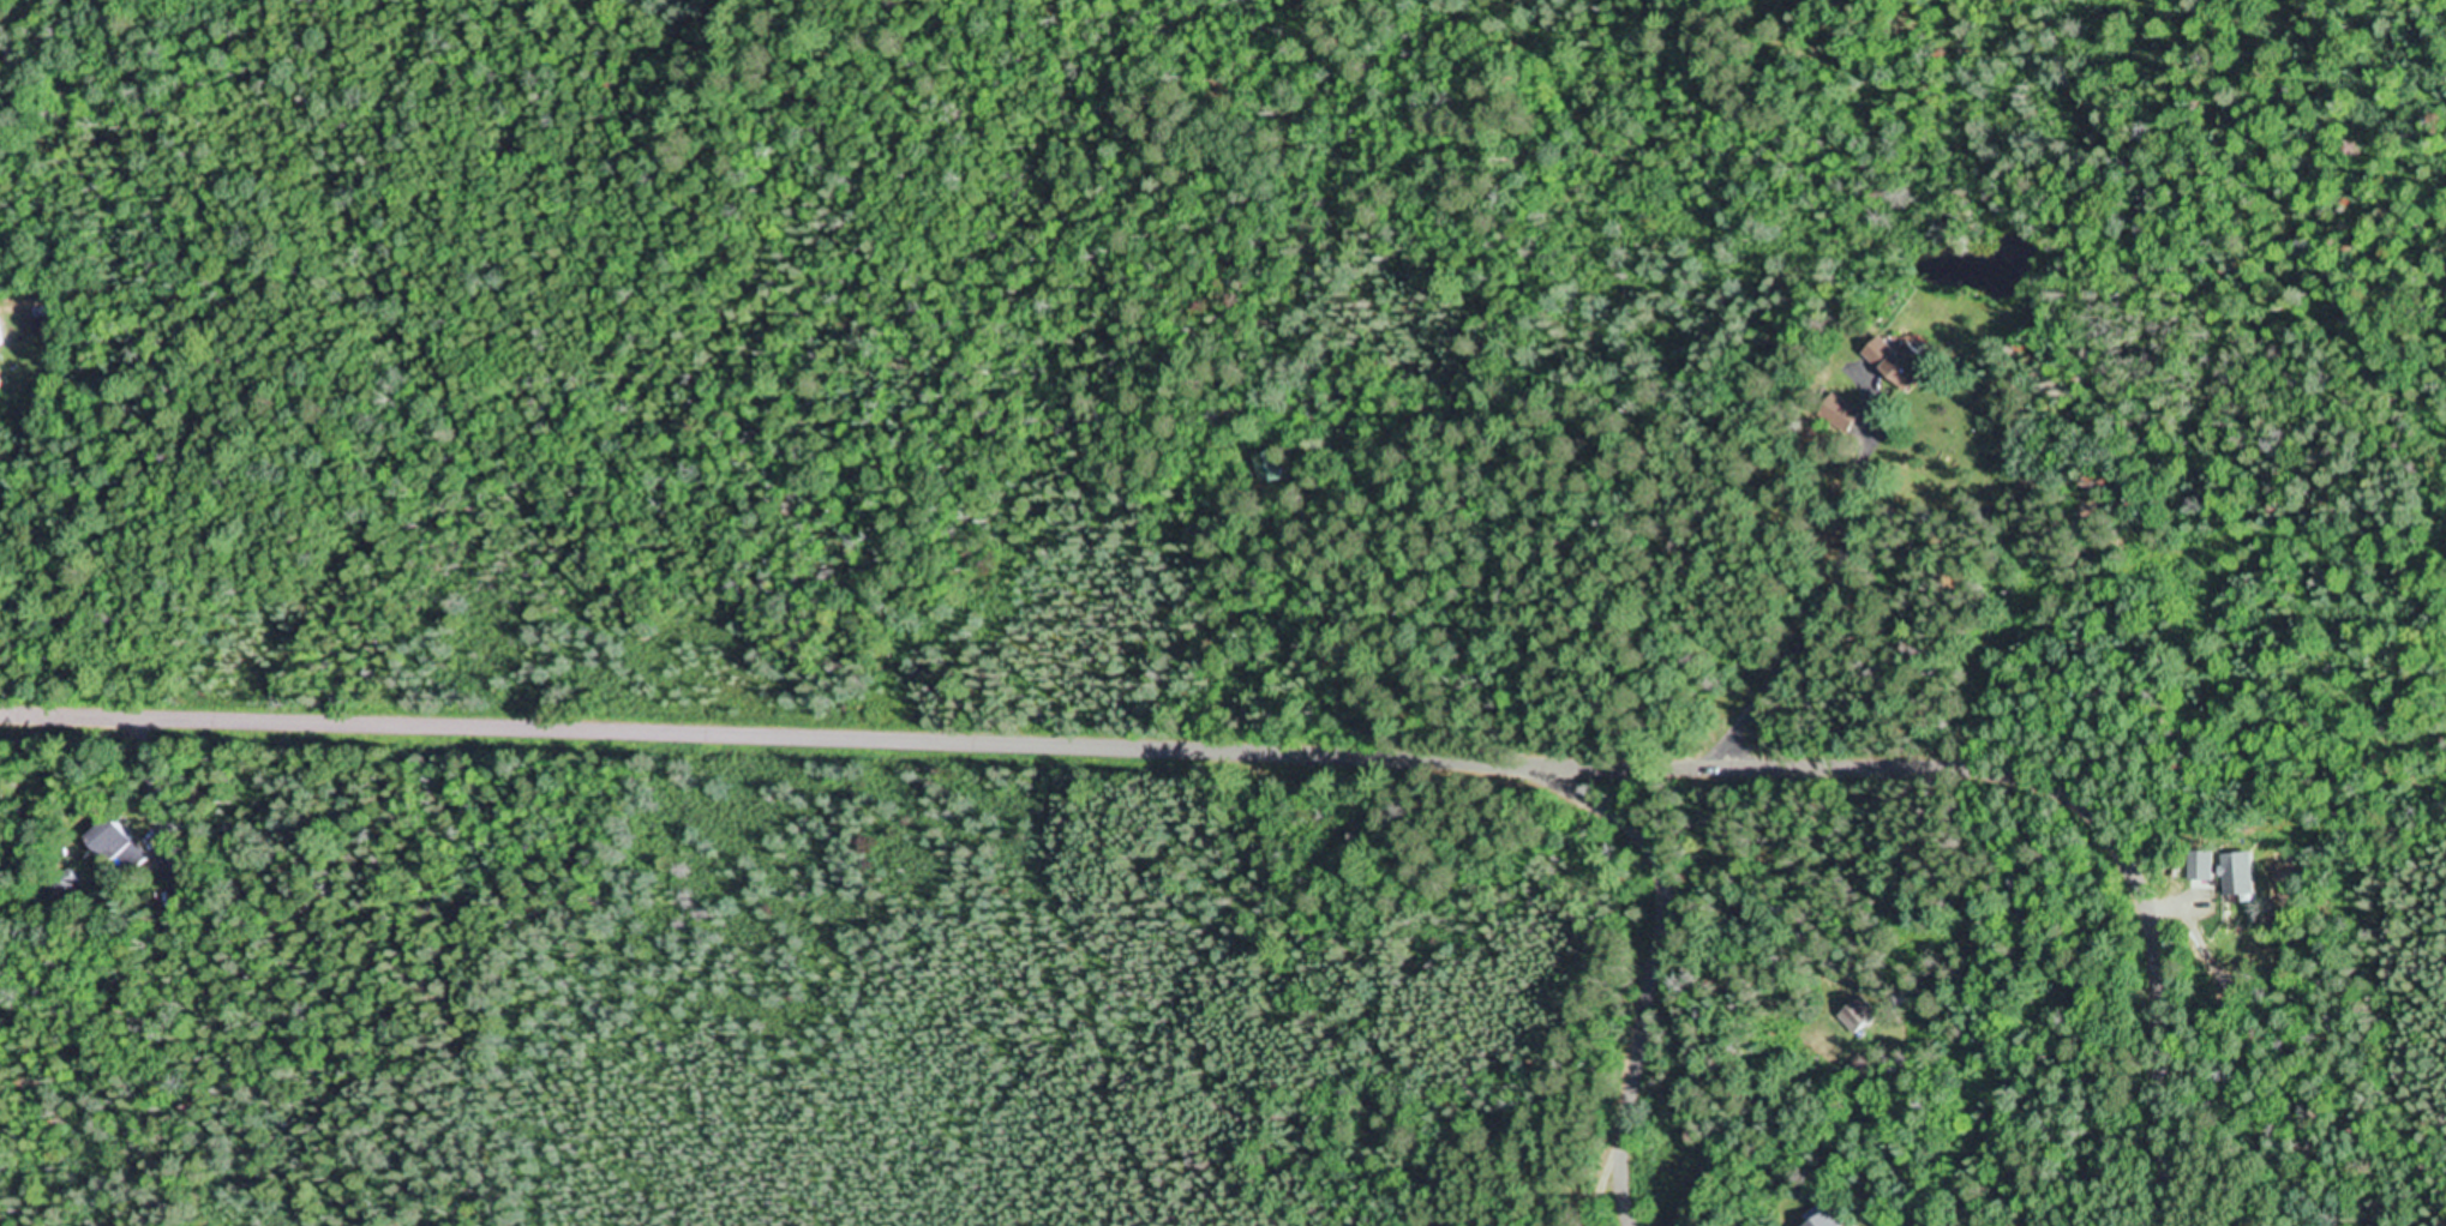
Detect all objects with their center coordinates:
road: (50, 34)
building: (0, 344)
building: (1895, 363)
building: (1839, 414)
building: (1282, 469)
road: (1266, 751)
building: (115, 849)
road: (588, 897)
road: (1657, 955)
building: (1853, 1017)
building: (1819, 1221)

